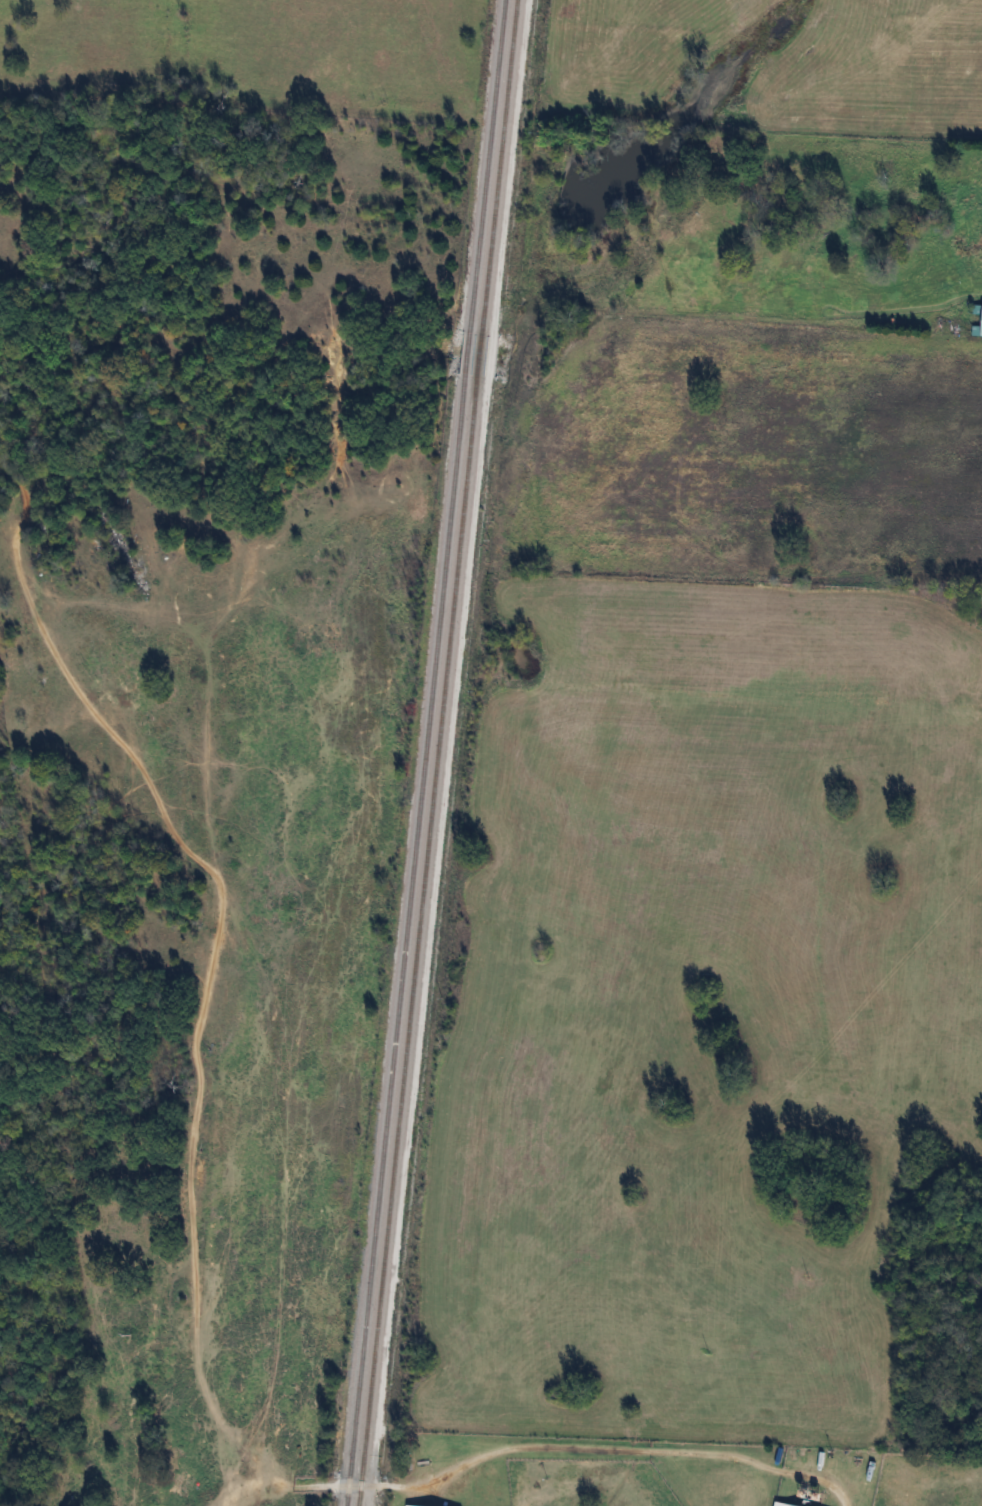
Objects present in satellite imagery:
railway: (436, 752)
building: (782, 1504)
building: (409, 1505)

